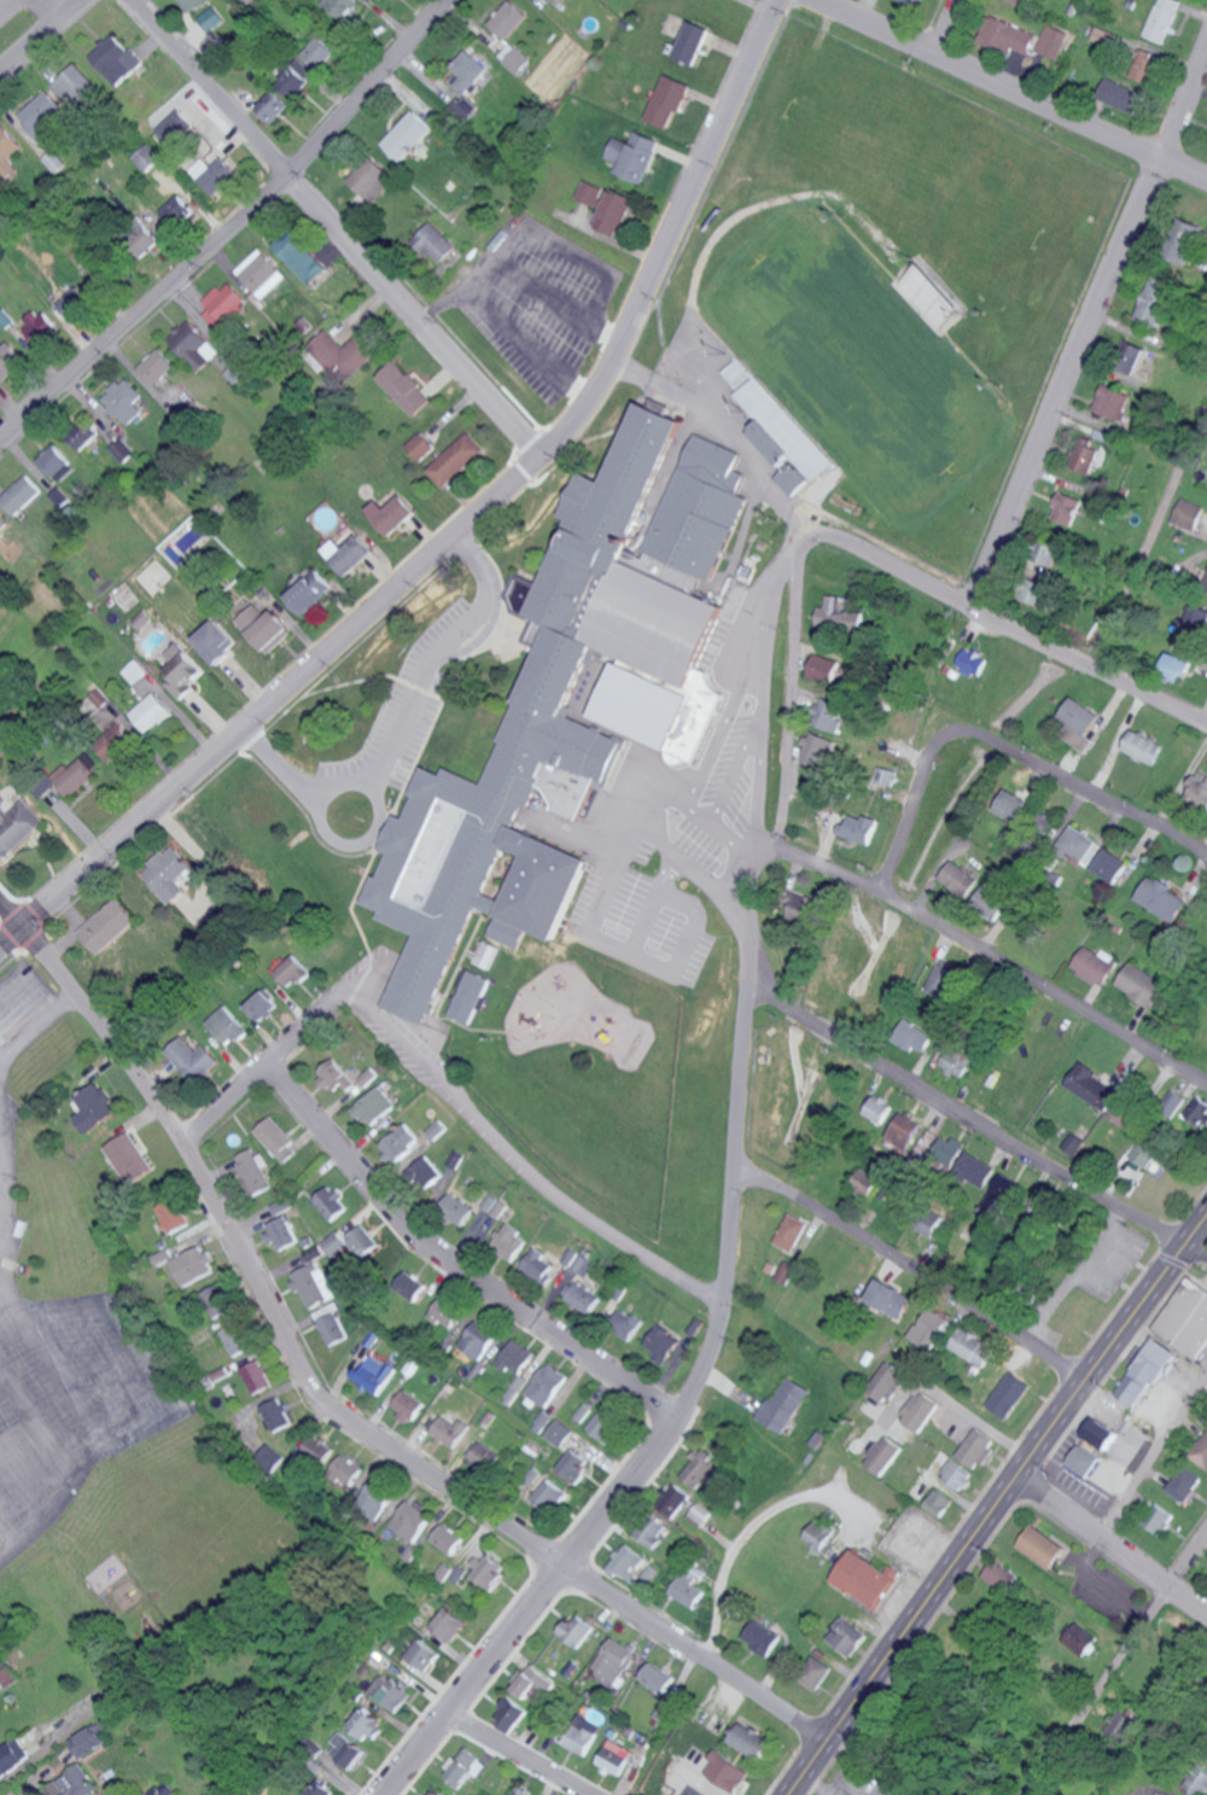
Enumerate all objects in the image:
building: (553, 0)
building: (915, 1)
building: (1025, 1)
building: (191, 5)
building: (342, 7)
road: (864, 10)
road: (56, 11)
road: (16, 12)
building: (209, 18)
building: (512, 19)
building: (1165, 19)
road: (951, 33)
building: (1008, 35)
building: (1106, 35)
road: (42, 39)
building: (695, 41)
building: (1054, 41)
building: (319, 52)
building: (518, 57)
building: (113, 59)
building: (471, 71)
building: (292, 76)
building: (78, 83)
building: (1124, 95)
road: (1010, 99)
building: (669, 100)
building: (272, 106)
building: (43, 113)
building: (408, 135)
building: (8, 148)
building: (636, 155)
building: (147, 157)
building: (56, 161)
building: (215, 173)
building: (371, 180)
building: (595, 193)
building: (183, 210)
building: (617, 212)
road: (328, 229)
road: (235, 233)
building: (146, 239)
building: (1185, 241)
building: (435, 243)
building: (301, 257)
road: (515, 272)
building: (263, 273)
building: (74, 298)
building: (1156, 299)
building: (227, 304)
road: (1085, 324)
road: (527, 343)
building: (197, 345)
building: (340, 355)
building: (11, 360)
building: (161, 365)
park: (855, 367)
building: (240, 374)
building: (406, 387)
building: (128, 400)
building: (1114, 402)
road: (723, 426)
building: (88, 438)
building: (783, 438)
building: (422, 447)
building: (126, 450)
building: (1088, 459)
building: (457, 460)
building: (57, 461)
building: (23, 494)
building: (701, 508)
building: (1067, 508)
building: (393, 514)
building: (1186, 514)
building: (2, 521)
road: (461, 529)
road: (1148, 534)
building: (349, 554)
building: (1054, 555)
building: (1205, 585)
building: (308, 594)
building: (1038, 594)
road: (765, 607)
building: (838, 613)
building: (1194, 622)
building: (263, 628)
road: (1005, 631)
building: (215, 641)
building: (969, 662)
road: (426, 664)
building: (1174, 666)
building: (134, 671)
building: (181, 671)
building: (829, 671)
road: (787, 689)
road: (760, 694)
building: (94, 703)
building: (150, 713)
building: (826, 713)
building: (119, 723)
building: (1077, 724)
building: (542, 732)
road: (716, 735)
road: (759, 735)
building: (1144, 747)
building: (109, 748)
building: (815, 750)
road: (1001, 750)
road: (281, 770)
building: (76, 774)
building: (884, 776)
building: (1199, 789)
building: (1011, 805)
building: (17, 826)
road: (721, 828)
building: (856, 828)
building: (1080, 845)
road: (682, 858)
building: (1109, 866)
road: (667, 873)
building: (957, 879)
building: (174, 884)
building: (1162, 899)
building: (990, 901)
building: (797, 909)
building: (106, 926)
building: (488, 955)
road: (645, 957)
road: (993, 962)
building: (1094, 964)
building: (297, 978)
building: (940, 980)
building: (1141, 984)
building: (471, 997)
building: (262, 1006)
road: (34, 1026)
building: (226, 1026)
building: (911, 1037)
building: (191, 1059)
building: (954, 1063)
road: (255, 1068)
building: (334, 1076)
building: (1094, 1088)
building: (1173, 1103)
building: (374, 1107)
building: (92, 1108)
building: (875, 1109)
building: (1121, 1112)
building: (1199, 1112)
road: (972, 1121)
building: (436, 1130)
building: (902, 1132)
building: (276, 1140)
building: (400, 1142)
building: (939, 1149)
building: (1142, 1155)
building: (127, 1158)
road: (513, 1160)
building: (251, 1170)
building: (976, 1170)
building: (422, 1171)
building: (330, 1201)
building: (278, 1206)
building: (454, 1207)
building: (173, 1213)
building: (928, 1220)
building: (281, 1231)
building: (786, 1231)
building: (357, 1236)
building: (506, 1240)
building: (333, 1242)
building: (163, 1257)
building: (579, 1261)
road: (447, 1263)
building: (193, 1264)
building: (538, 1264)
building: (781, 1271)
road: (910, 1271)
building: (313, 1282)
building: (408, 1284)
building: (581, 1295)
building: (888, 1298)
building: (218, 1299)
building: (444, 1311)
building: (1186, 1317)
building: (331, 1323)
building: (624, 1323)
building: (933, 1328)
building: (237, 1337)
building: (478, 1339)
building: (659, 1342)
building: (973, 1346)
building: (517, 1356)
road: (701, 1364)
building: (1145, 1370)
building: (373, 1373)
building: (258, 1375)
building: (885, 1381)
building: (546, 1385)
building: (1011, 1393)
building: (781, 1403)
road: (950, 1403)
building: (407, 1404)
building: (920, 1410)
building: (581, 1411)
building: (278, 1414)
building: (590, 1415)
building: (542, 1421)
building: (605, 1424)
building: (455, 1426)
road: (357, 1429)
road: (1144, 1429)
building: (558, 1432)
building: (1102, 1432)
building: (976, 1446)
building: (1200, 1451)
building: (482, 1453)
building: (881, 1453)
building: (272, 1456)
building: (332, 1461)
building: (1084, 1461)
building: (572, 1464)
building: (699, 1471)
building: (956, 1474)
building: (1183, 1482)
building: (543, 1490)
building: (378, 1497)
building: (672, 1498)
building: (938, 1502)
road: (995, 1503)
building: (699, 1513)
building: (1156, 1517)
building: (412, 1520)
building: (653, 1529)
road: (744, 1533)
building: (817, 1534)
building: (447, 1537)
building: (1042, 1545)
road: (1110, 1545)
building: (626, 1560)
building: (478, 1568)
building: (442, 1573)
building: (867, 1578)
building: (687, 1587)
building: (448, 1624)
building: (575, 1630)
building: (847, 1636)
building: (765, 1638)
building: (1078, 1638)
building: (421, 1654)
building: (613, 1660)
road: (1114, 1663)
building: (816, 1671)
building: (7, 1674)
building: (657, 1677)
building: (526, 1680)
building: (387, 1691)
building: (508, 1713)
building: (365, 1723)
building: (582, 1733)
building: (89, 1741)
building: (754, 1741)
building: (345, 1749)
building: (614, 1755)
road: (514, 1756)
building: (11, 1767)
building: (463, 1767)
building: (729, 1771)
building: (1195, 1781)
building: (75, 1782)
road: (810, 1785)
building: (320, 1789)
building: (520, 1790)
building: (694, 1790)
building: (432, 1793)
building: (1158, 1793)
building: (1164, 1793)

